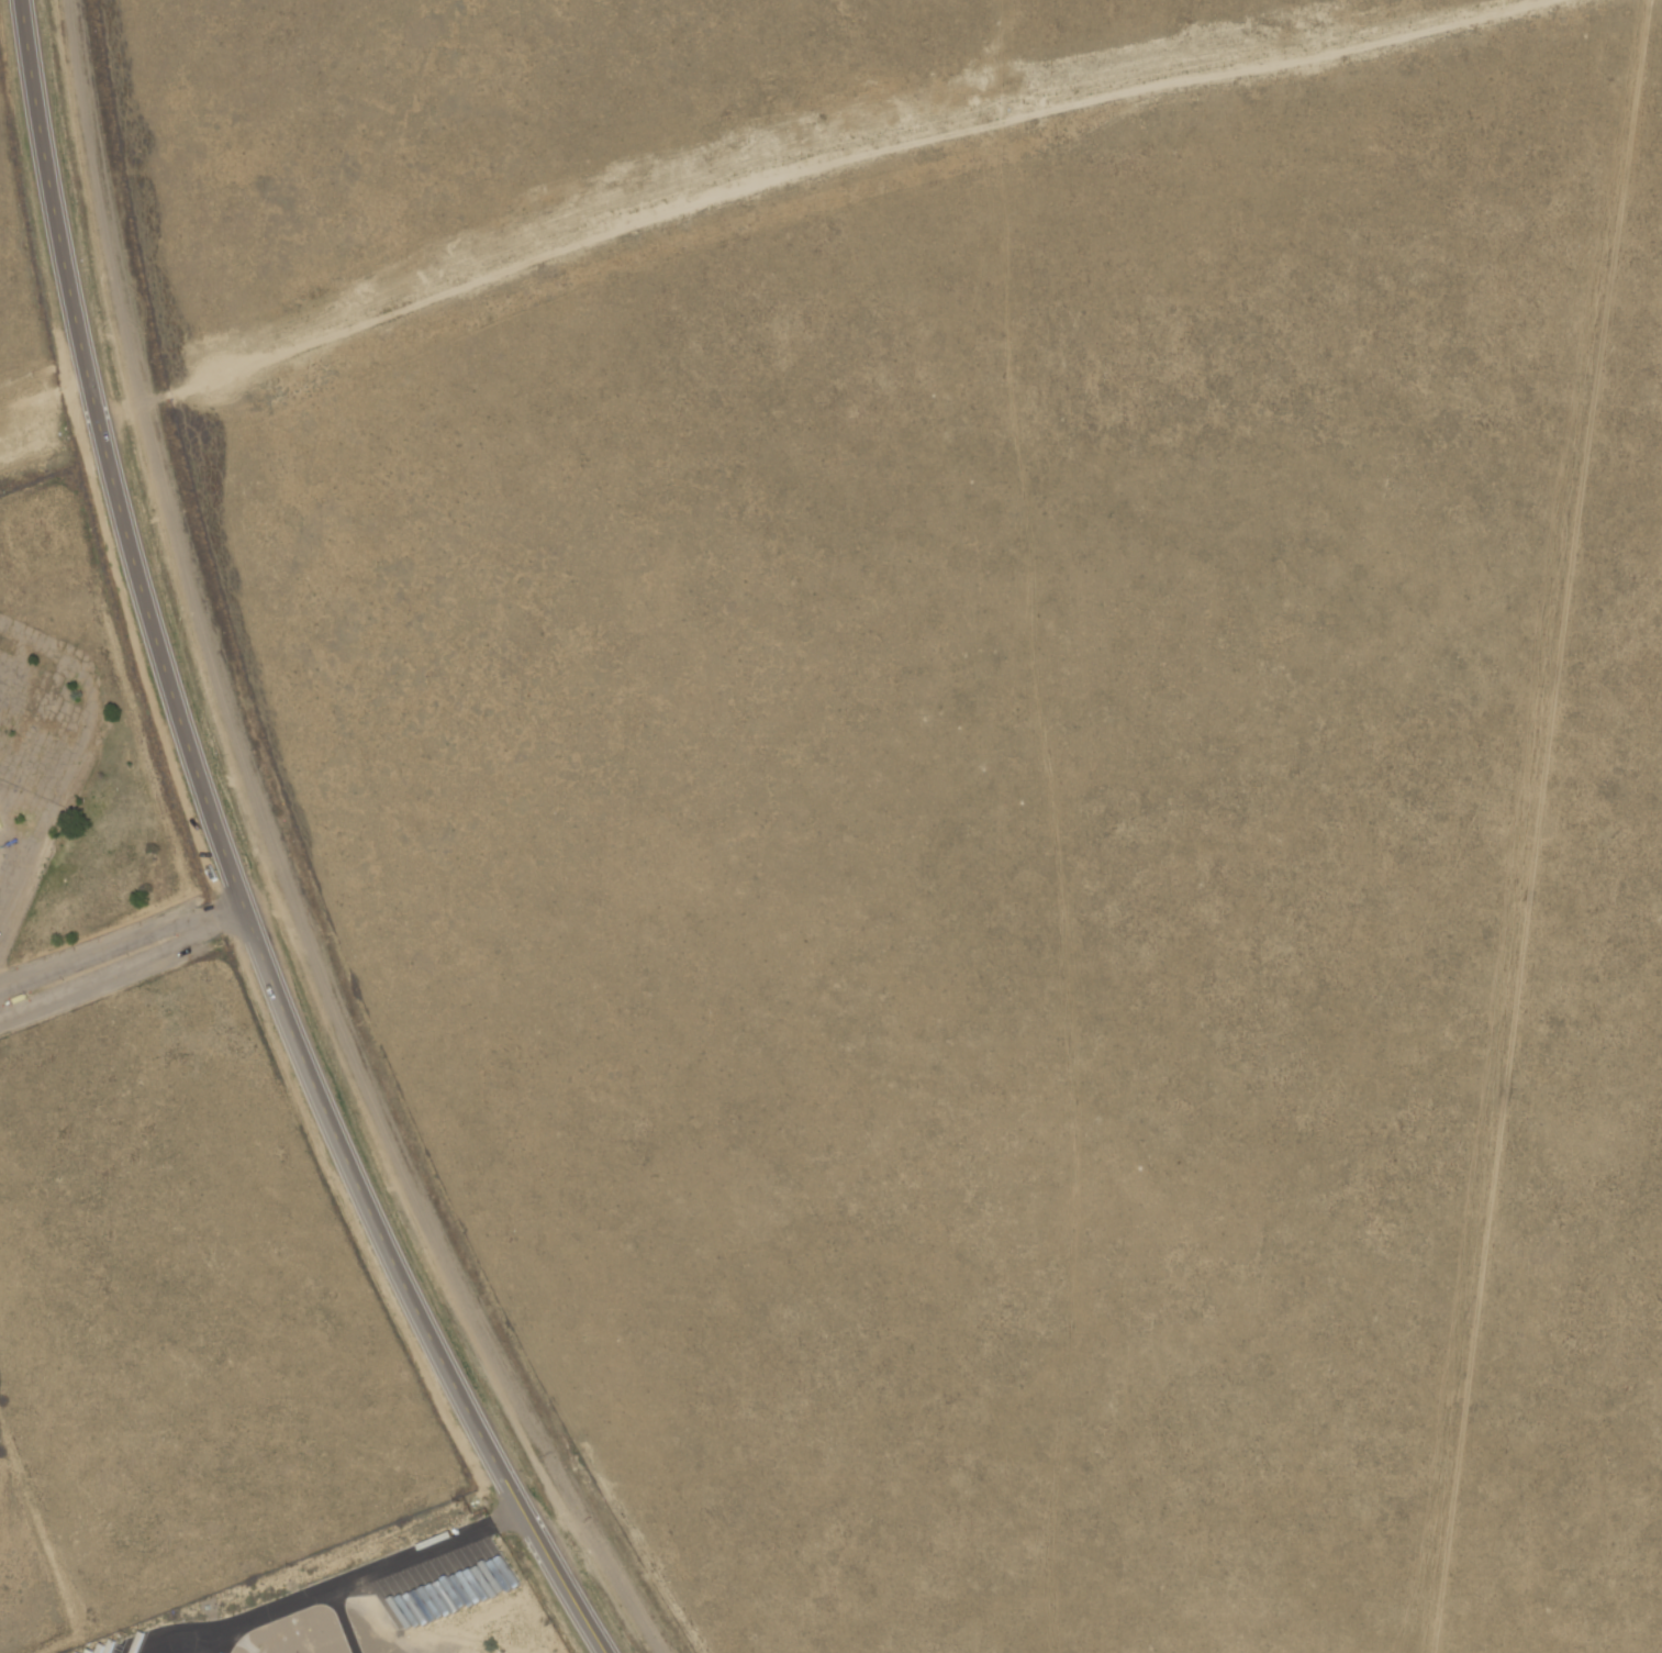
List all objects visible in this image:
road: (794, 166)
road: (44, 396)
road: (23, 455)
road: (203, 773)
road: (122, 954)
road: (568, 1577)
road: (341, 1578)

